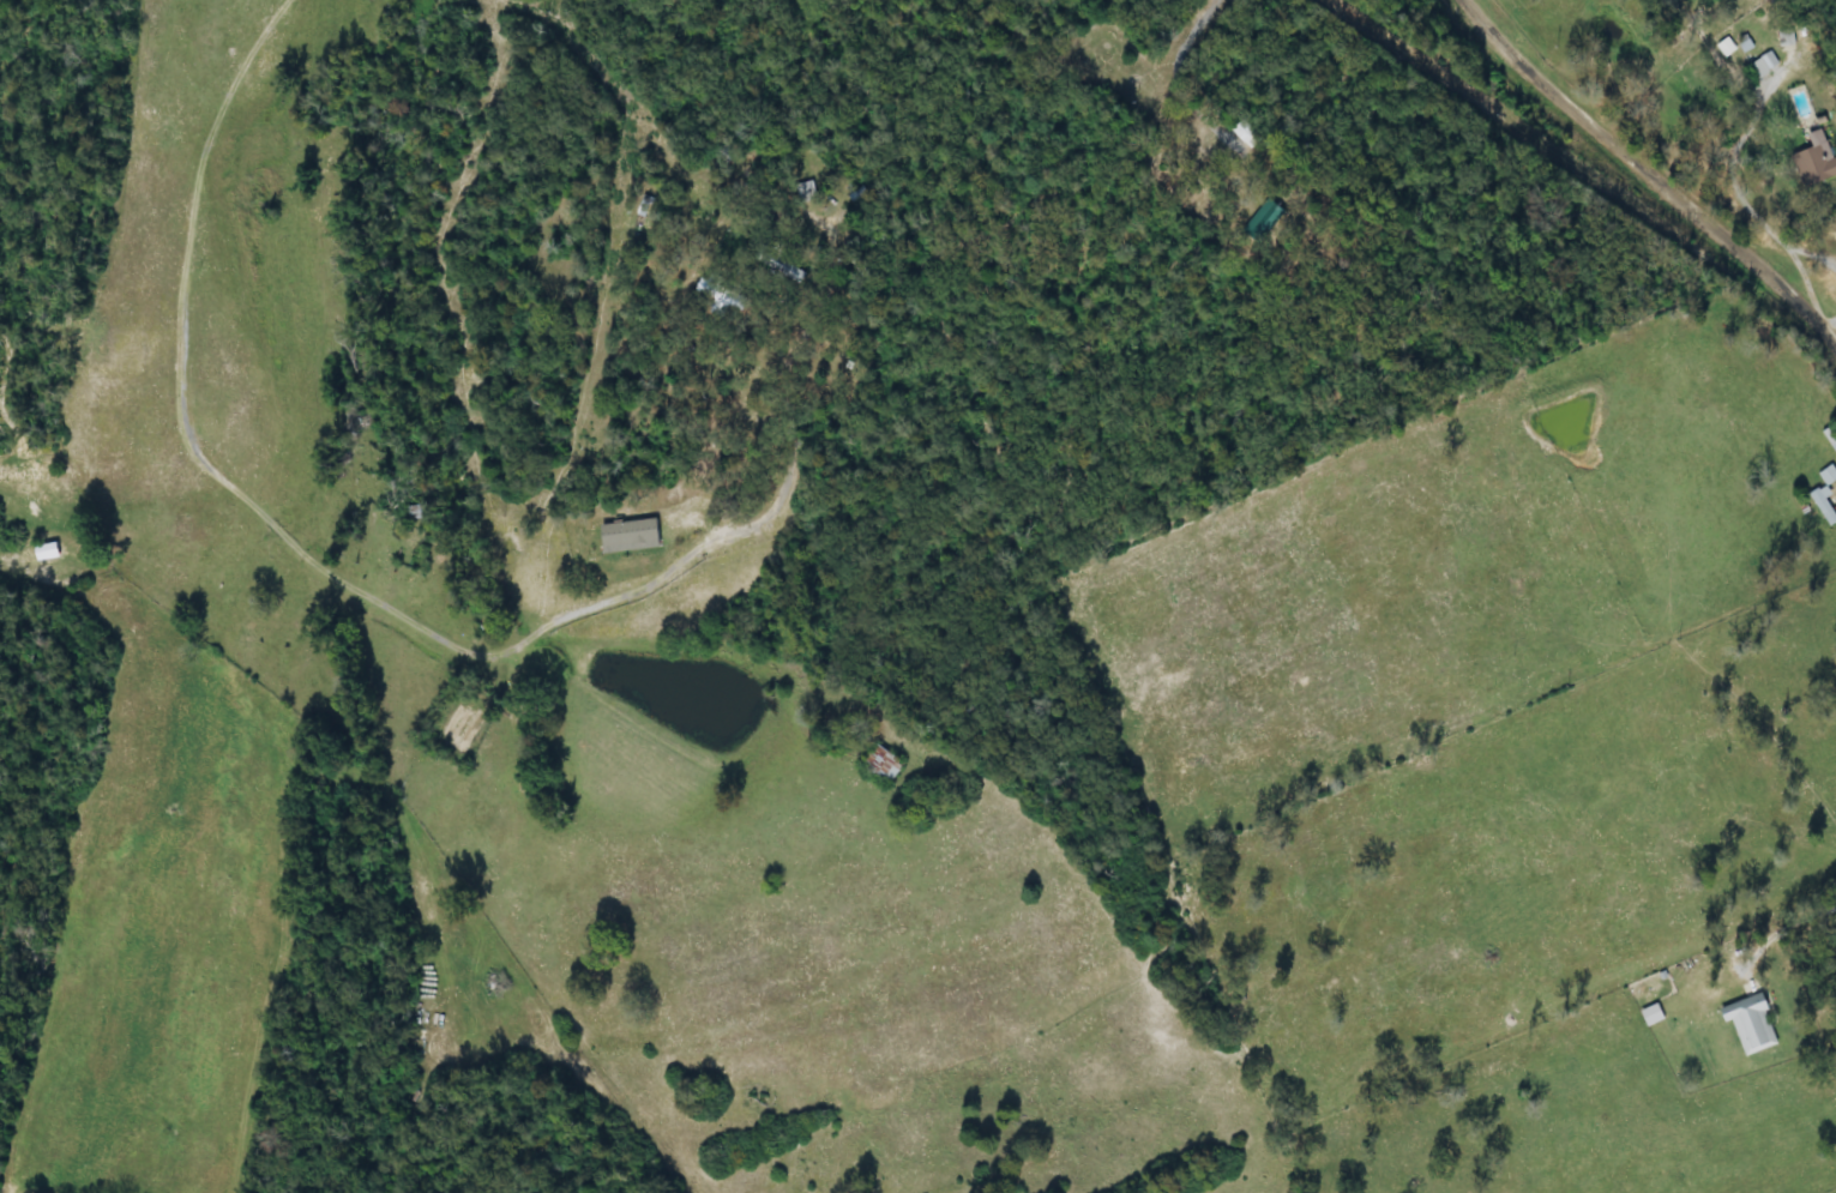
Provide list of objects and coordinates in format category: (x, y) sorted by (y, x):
building: (372, 0)
building: (1787, 40)
building: (1727, 47)
building: (1765, 66)
building: (1816, 162)
road: (1645, 186)
building: (1264, 223)
building: (1829, 476)
building: (1825, 507)
building: (630, 537)
building: (46, 553)
building: (1653, 1017)
building: (1751, 1023)

